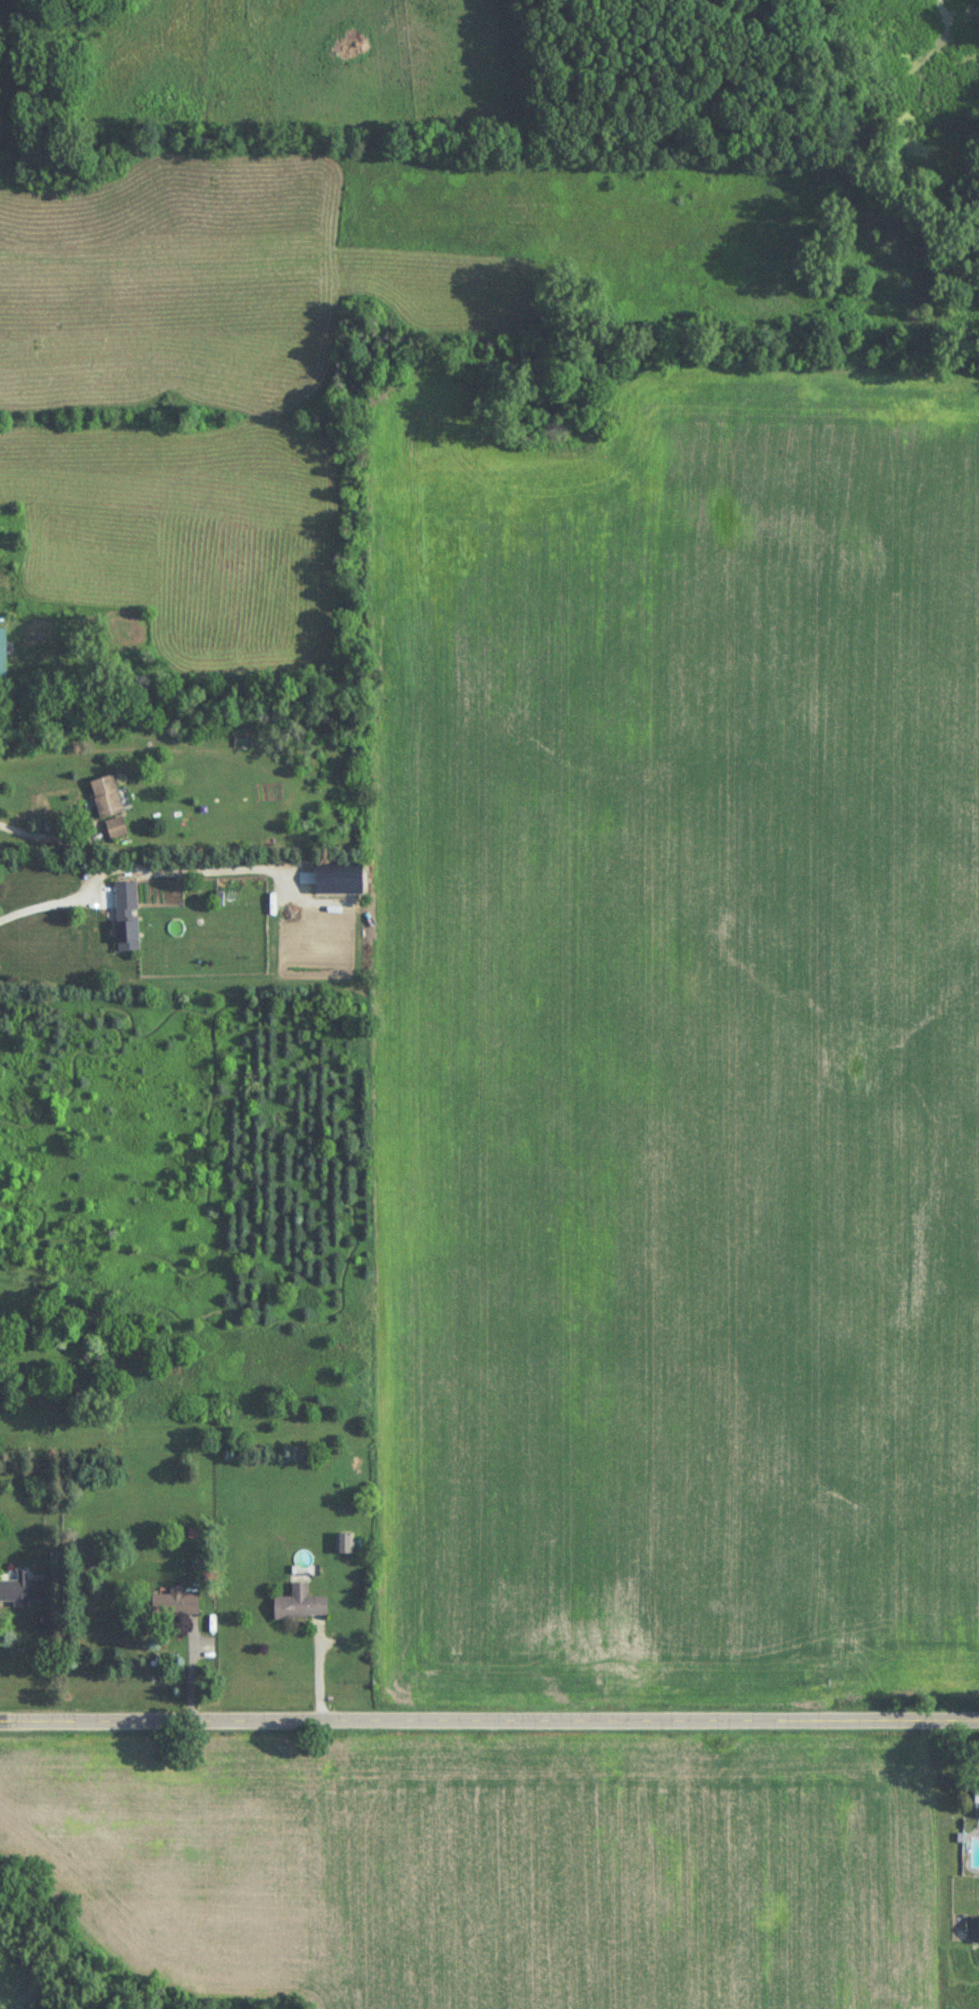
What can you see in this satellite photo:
building: (2, 654)
building: (104, 799)
building: (115, 829)
road: (36, 836)
road: (42, 909)
building: (126, 918)
building: (342, 1544)
building: (21, 1591)
building: (174, 1603)
building: (300, 1605)
road: (489, 1718)
building: (975, 1796)
building: (974, 1931)

